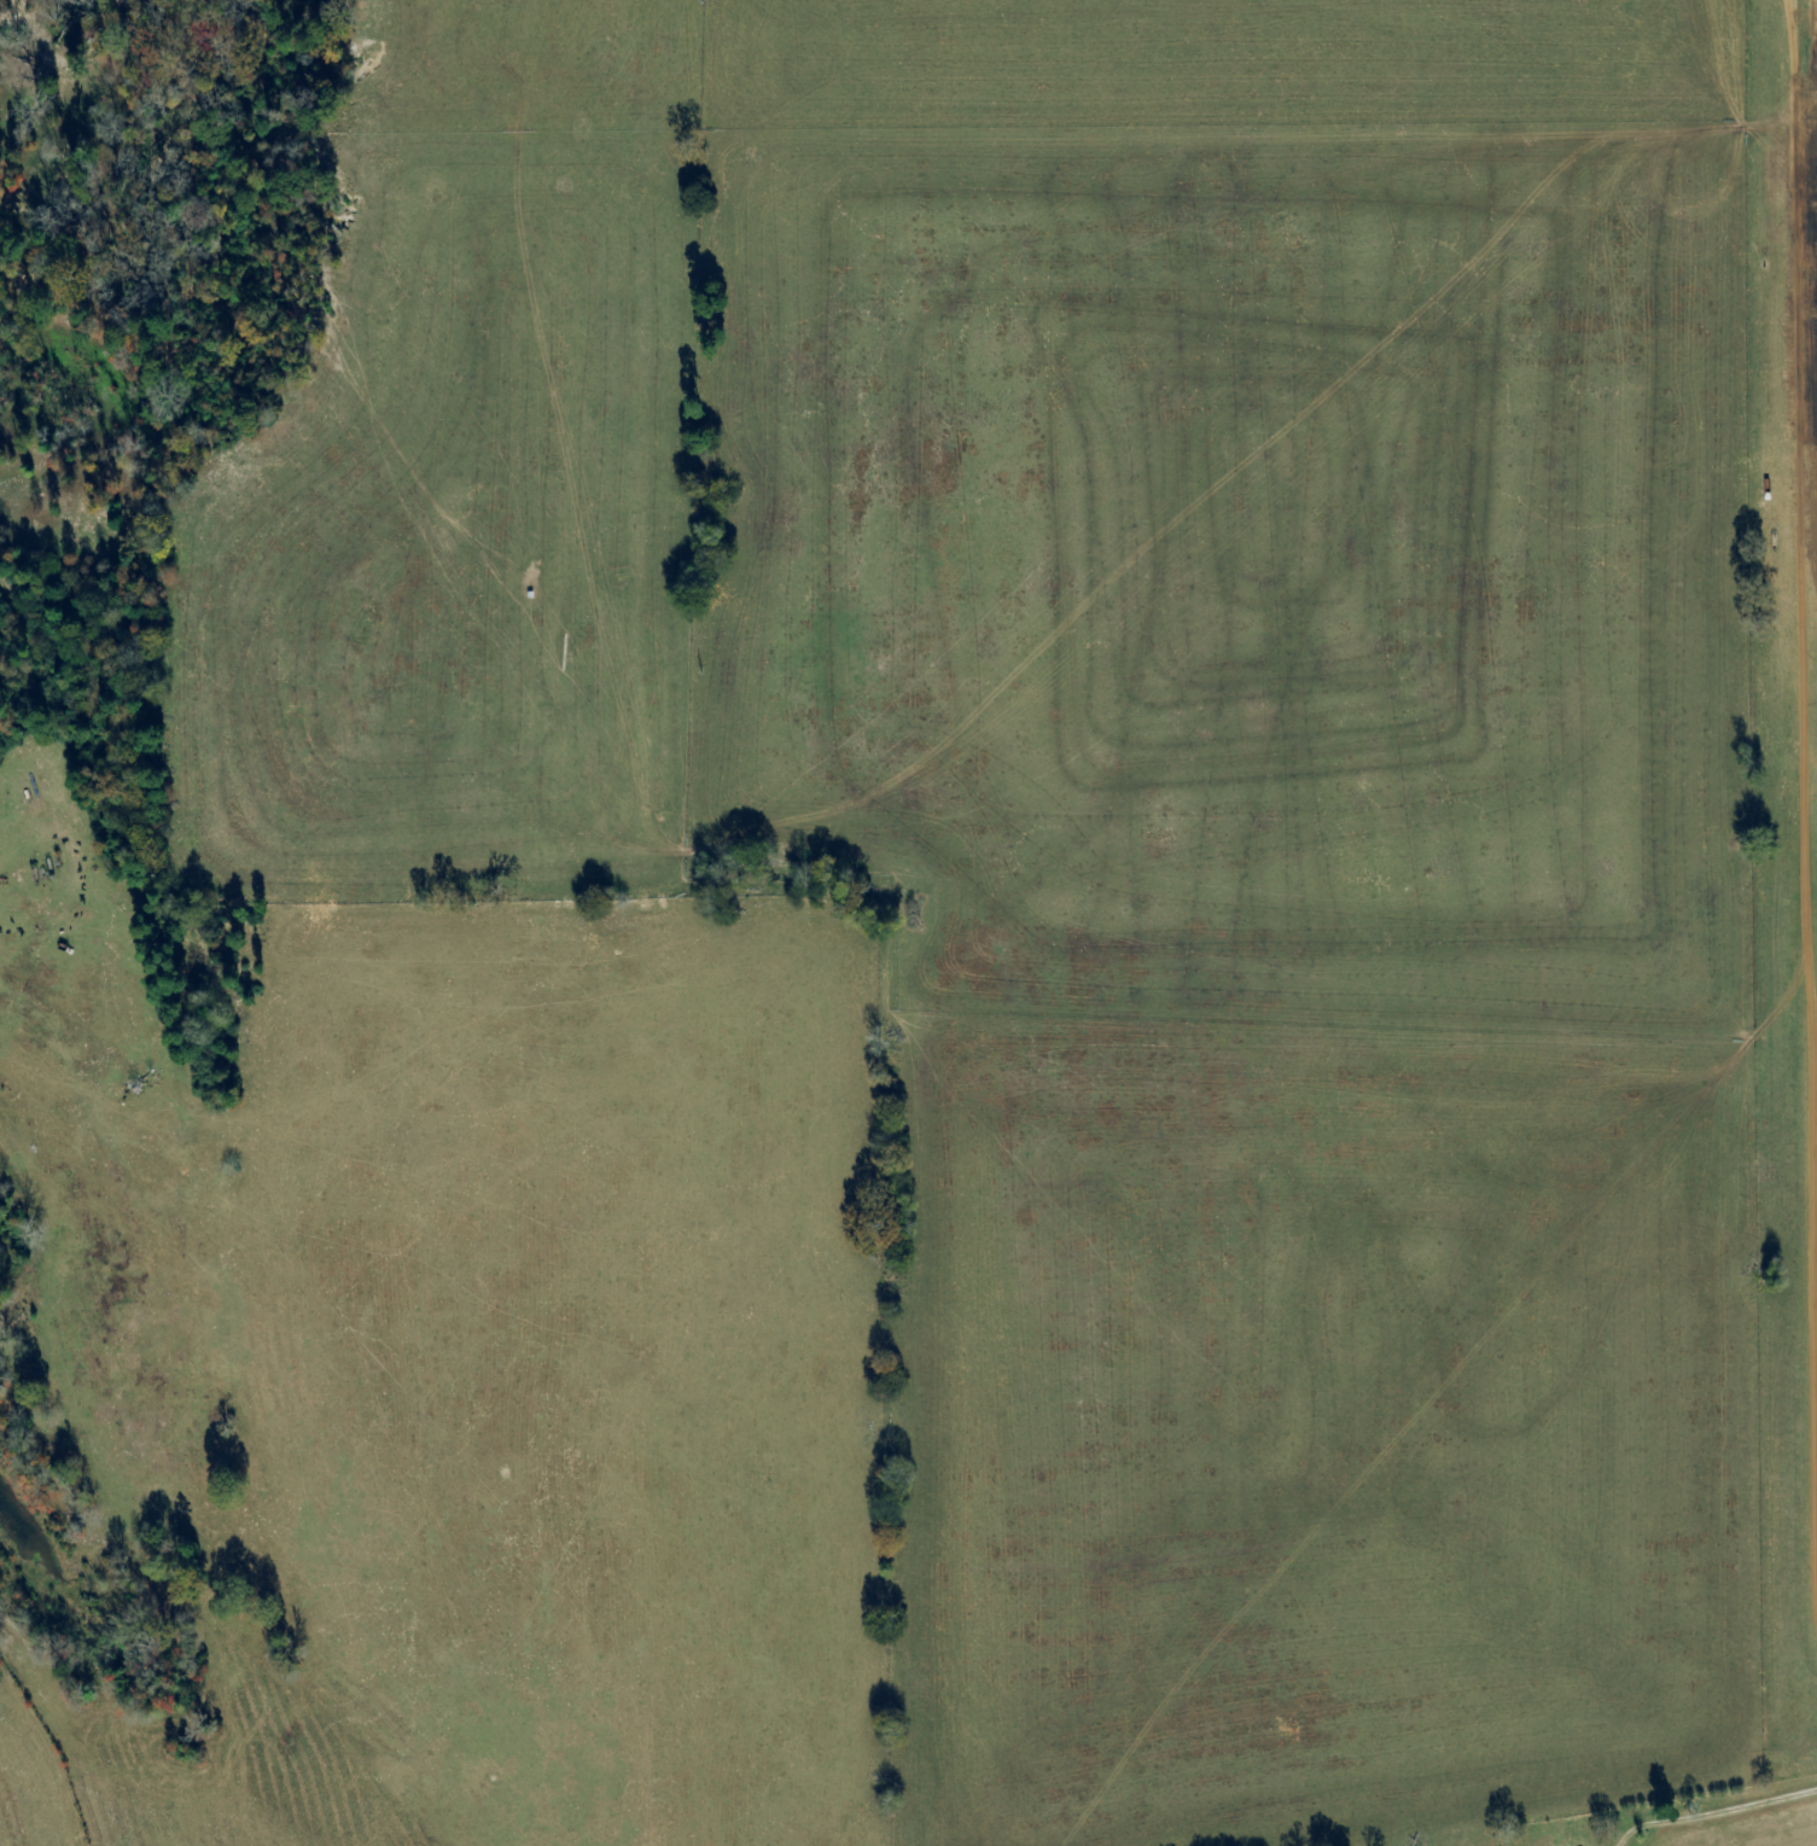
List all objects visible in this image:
road: (1809, 834)

